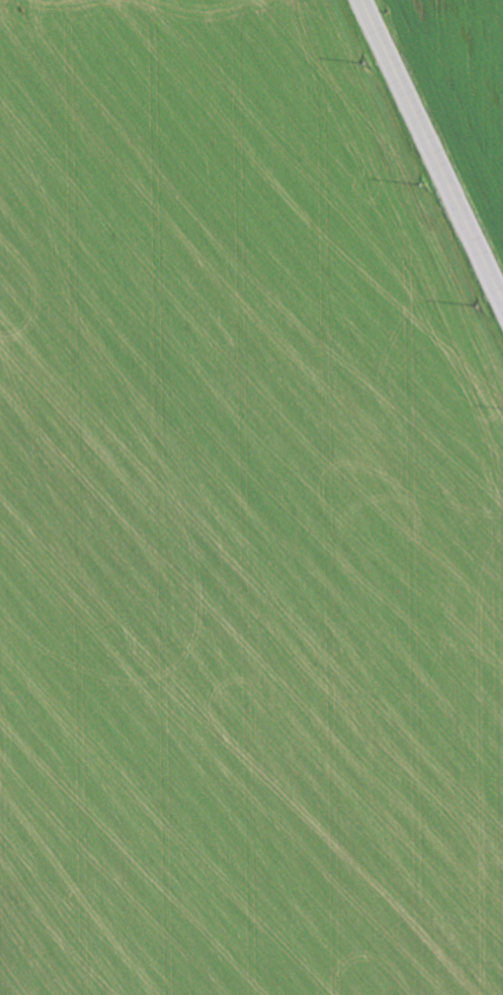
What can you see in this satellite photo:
road: (429, 154)

